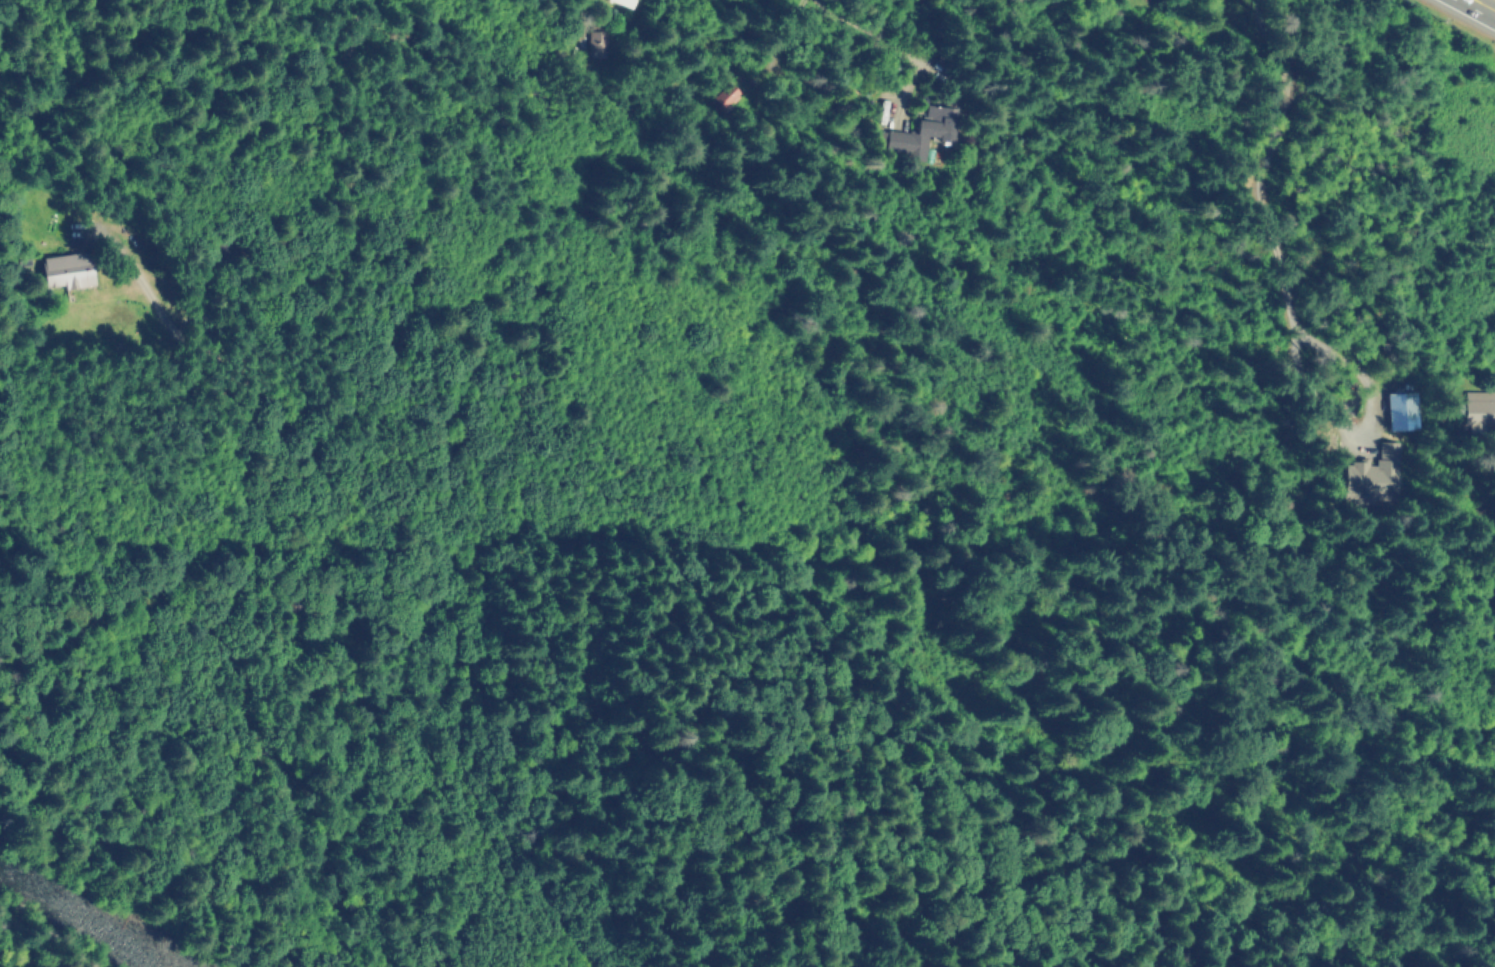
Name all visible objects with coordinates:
road: (1491, 1)
road: (788, 33)
building: (598, 42)
road: (1025, 78)
building: (724, 96)
building: (881, 111)
building: (920, 133)
building: (69, 272)
road: (135, 276)
road: (332, 278)
building: (1479, 401)
building: (1402, 411)
building: (1373, 475)
river: (84, 915)

